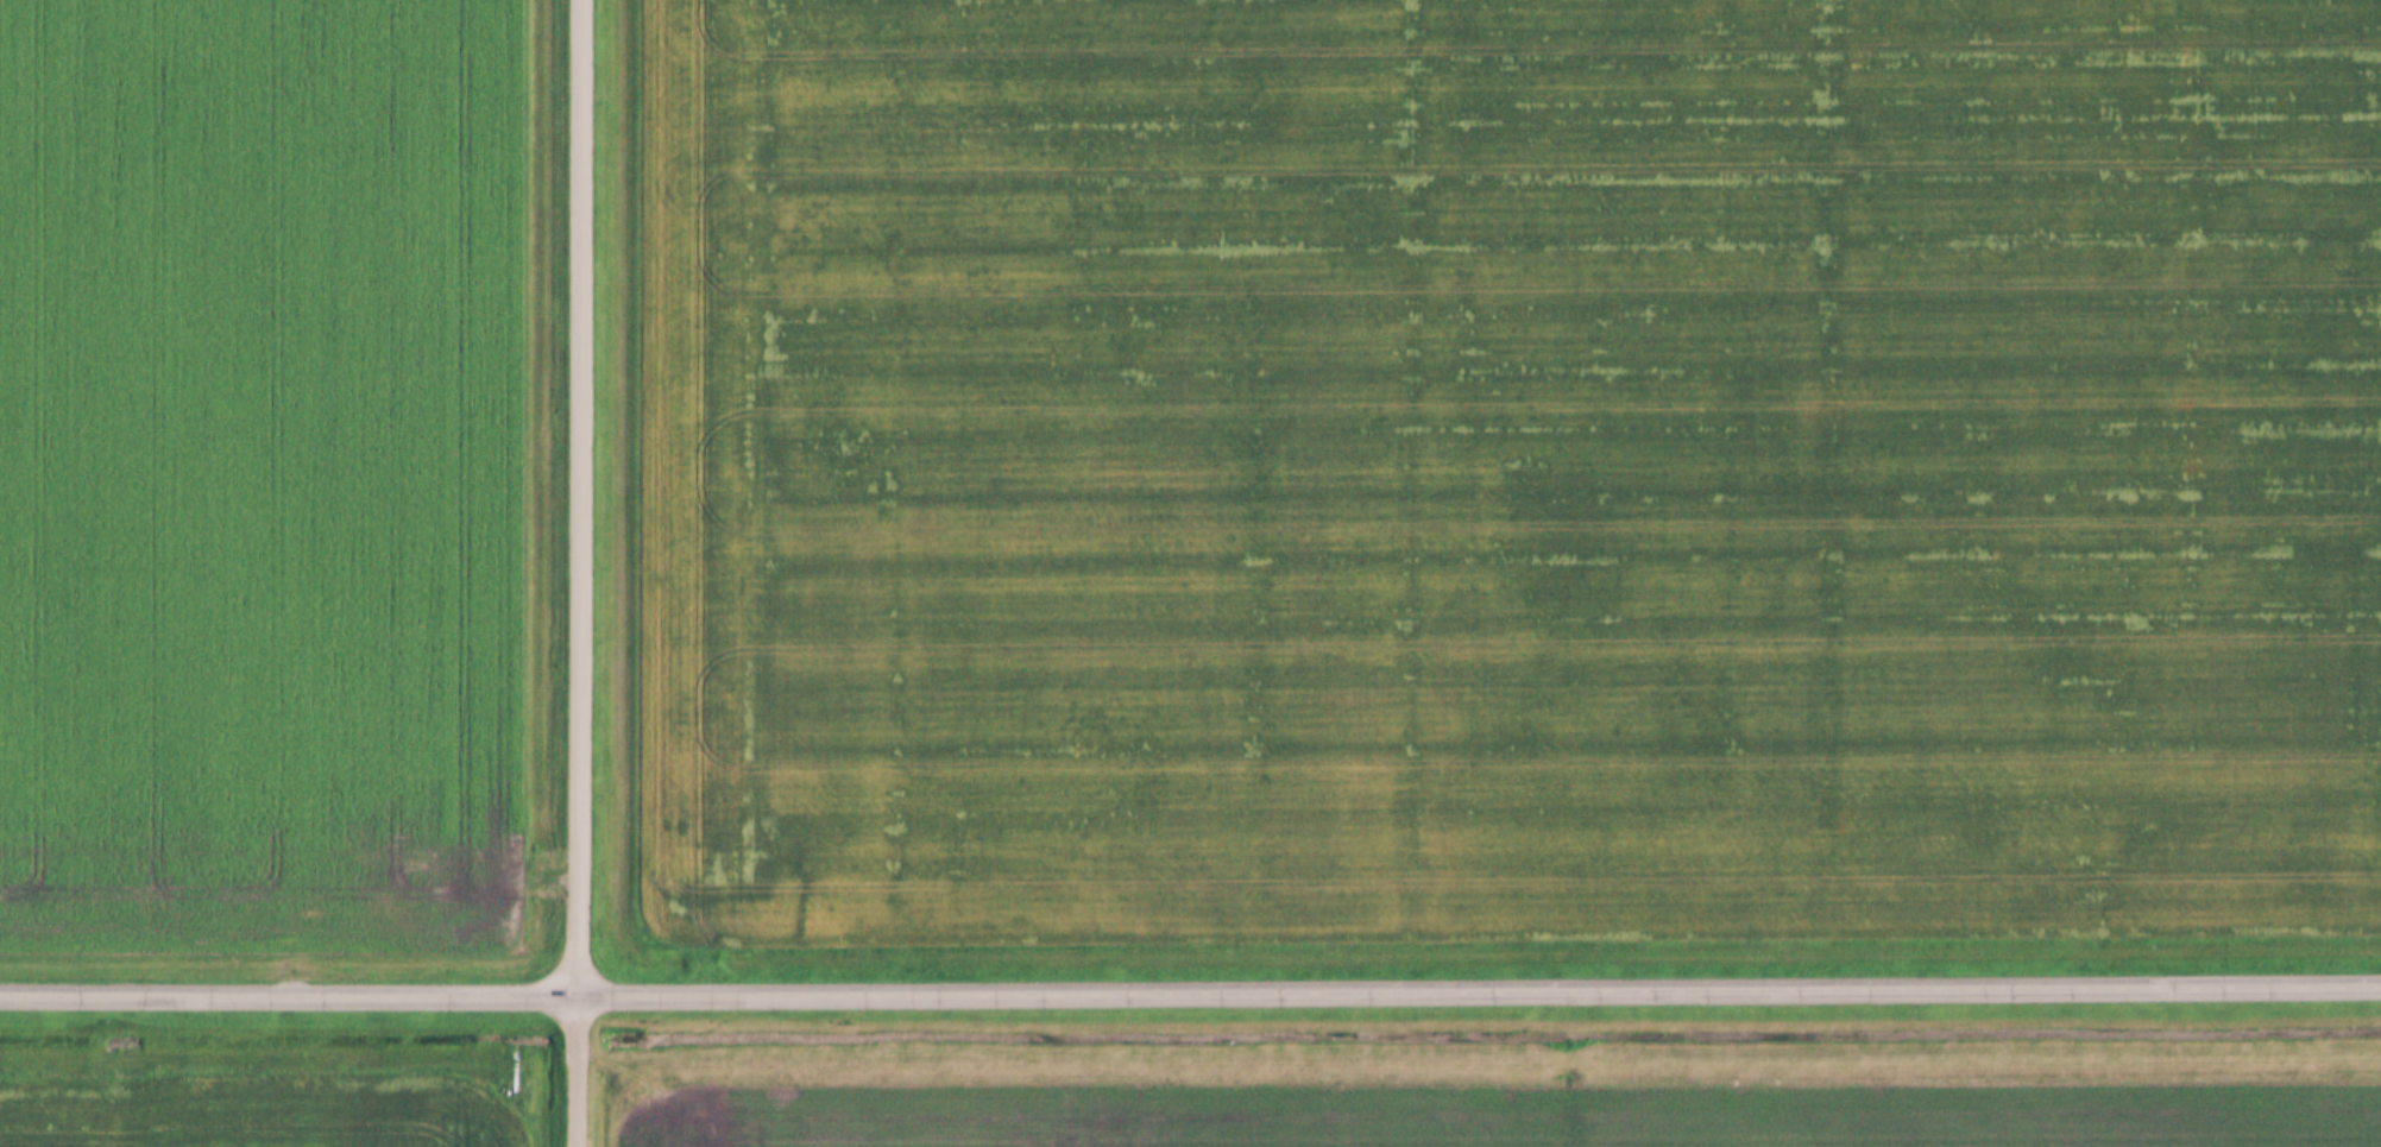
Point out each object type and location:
road: (580, 573)
road: (1190, 995)

